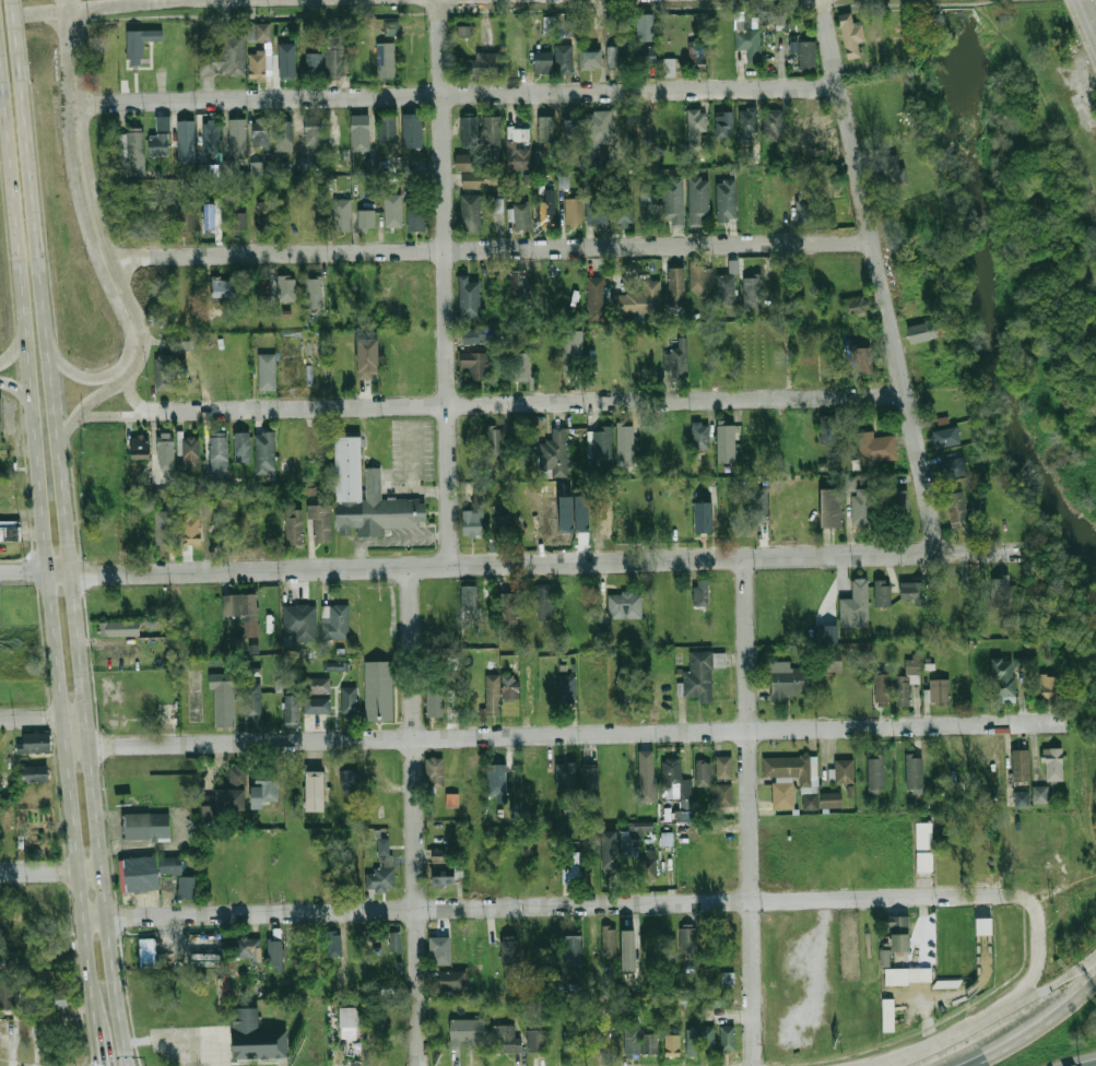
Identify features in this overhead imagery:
road: (1093, 5)
road: (84, 8)
river: (955, 10)
building: (741, 20)
building: (546, 23)
building: (390, 27)
building: (646, 27)
building: (251, 32)
building: (262, 33)
building: (851, 35)
road: (25, 40)
building: (747, 44)
building: (138, 45)
road: (3, 47)
building: (806, 55)
building: (646, 56)
building: (334, 57)
building: (615, 57)
building: (696, 57)
building: (224, 58)
building: (589, 58)
building: (564, 60)
building: (386, 61)
building: (541, 62)
building: (257, 64)
building: (286, 64)
building: (314, 64)
building: (482, 66)
building: (669, 67)
road: (451, 95)
building: (722, 123)
building: (745, 123)
building: (773, 123)
building: (570, 127)
building: (545, 128)
building: (387, 129)
building: (411, 130)
building: (468, 130)
building: (597, 130)
building: (694, 130)
building: (260, 131)
building: (491, 131)
building: (313, 132)
building: (360, 132)
building: (211, 135)
building: (237, 135)
building: (283, 135)
building: (185, 140)
building: (158, 144)
building: (517, 147)
building: (132, 150)
building: (537, 158)
building: (465, 162)
building: (228, 167)
building: (256, 168)
building: (208, 169)
building: (888, 170)
building: (479, 179)
road: (89, 188)
building: (672, 198)
building: (697, 199)
building: (726, 200)
building: (497, 204)
building: (648, 205)
building: (546, 209)
building: (803, 209)
building: (391, 210)
building: (623, 210)
building: (573, 211)
building: (596, 211)
building: (470, 212)
building: (263, 214)
building: (341, 214)
building: (518, 215)
building: (414, 217)
building: (365, 218)
building: (185, 220)
building: (236, 221)
road: (83, 227)
road: (485, 250)
building: (698, 275)
road: (882, 276)
road: (446, 284)
building: (517, 285)
building: (675, 286)
building: (285, 287)
building: (724, 288)
building: (751, 291)
building: (313, 292)
building: (468, 297)
river: (979, 297)
building: (596, 298)
building: (638, 299)
building: (853, 306)
building: (923, 330)
building: (473, 335)
road: (17, 346)
building: (570, 348)
building: (367, 356)
building: (679, 356)
building: (859, 359)
building: (474, 364)
building: (522, 368)
building: (267, 370)
building: (163, 372)
road: (19, 391)
road: (132, 395)
road: (92, 403)
road: (532, 405)
road: (115, 416)
building: (0, 427)
building: (699, 436)
building: (944, 437)
building: (724, 441)
building: (294, 442)
building: (493, 442)
building: (625, 445)
building: (600, 446)
building: (139, 447)
building: (241, 447)
building: (875, 447)
parking lot: (413, 449)
building: (190, 452)
building: (264, 452)
building: (166, 453)
building: (553, 453)
building: (219, 455)
road: (413, 457)
building: (950, 467)
road: (397, 474)
building: (849, 483)
road: (417, 491)
building: (368, 495)
building: (894, 500)
building: (756, 505)
building: (830, 507)
building: (862, 507)
building: (955, 507)
building: (473, 517)
building: (702, 517)
building: (319, 523)
building: (500, 524)
building: (294, 526)
building: (165, 528)
building: (190, 529)
building: (10, 531)
road: (390, 536)
parking lot: (411, 537)
road: (50, 554)
road: (985, 554)
road: (470, 567)
road: (76, 573)
building: (1000, 588)
building: (911, 591)
building: (700, 592)
building: (882, 592)
building: (469, 597)
building: (544, 602)
building: (855, 604)
building: (239, 605)
building: (625, 605)
building: (508, 615)
building: (334, 620)
building: (297, 623)
building: (113, 627)
building: (603, 632)
building: (825, 633)
building: (833, 661)
building: (334, 666)
building: (700, 674)
building: (907, 678)
building: (1002, 679)
building: (789, 683)
building: (316, 685)
building: (509, 686)
building: (567, 688)
building: (624, 688)
building: (882, 688)
building: (1048, 688)
building: (379, 690)
building: (936, 692)
building: (225, 696)
building: (349, 699)
building: (499, 699)
building: (252, 700)
building: (435, 702)
building: (316, 706)
building: (291, 710)
road: (79, 718)
road: (34, 719)
road: (568, 734)
building: (35, 743)
building: (1052, 763)
building: (1021, 765)
building: (723, 767)
building: (31, 771)
building: (841, 771)
building: (434, 772)
building: (914, 772)
building: (565, 773)
building: (703, 773)
building: (875, 773)
building: (646, 777)
building: (349, 779)
building: (588, 779)
building: (792, 779)
building: (496, 780)
building: (314, 786)
building: (676, 786)
building: (263, 789)
building: (227, 794)
building: (723, 794)
building: (1039, 794)
building: (450, 799)
building: (830, 801)
road: (751, 813)
road: (416, 817)
building: (149, 826)
building: (639, 827)
building: (625, 845)
building: (921, 845)
building: (609, 849)
building: (438, 855)
building: (647, 863)
building: (574, 864)
building: (170, 865)
building: (381, 867)
road: (40, 873)
road: (95, 873)
building: (139, 873)
building: (443, 877)
building: (188, 886)
road: (547, 907)
building: (896, 932)
building: (721, 934)
road: (1041, 934)
building: (686, 938)
building: (394, 940)
building: (609, 940)
building: (333, 943)
building: (247, 947)
building: (573, 948)
building: (275, 949)
building: (439, 949)
building: (627, 949)
building: (509, 950)
parking lot: (176, 952)
building: (883, 958)
building: (207, 959)
building: (905, 974)
building: (727, 979)
road: (1064, 981)
building: (451, 985)
building: (8, 996)
road: (1015, 998)
building: (718, 999)
building: (56, 1000)
road: (1018, 1002)
building: (886, 1015)
building: (350, 1016)
road: (929, 1024)
road: (1038, 1028)
building: (467, 1032)
building: (257, 1037)
building: (505, 1038)
building: (727, 1039)
building: (535, 1040)
building: (699, 1040)
road: (941, 1041)
building: (571, 1042)
building: (649, 1043)
parking lot: (195, 1044)
road: (103, 1045)
building: (375, 1050)
traffic signals: (105, 1064)
road: (81, 1065)
road: (1095, 1065)

